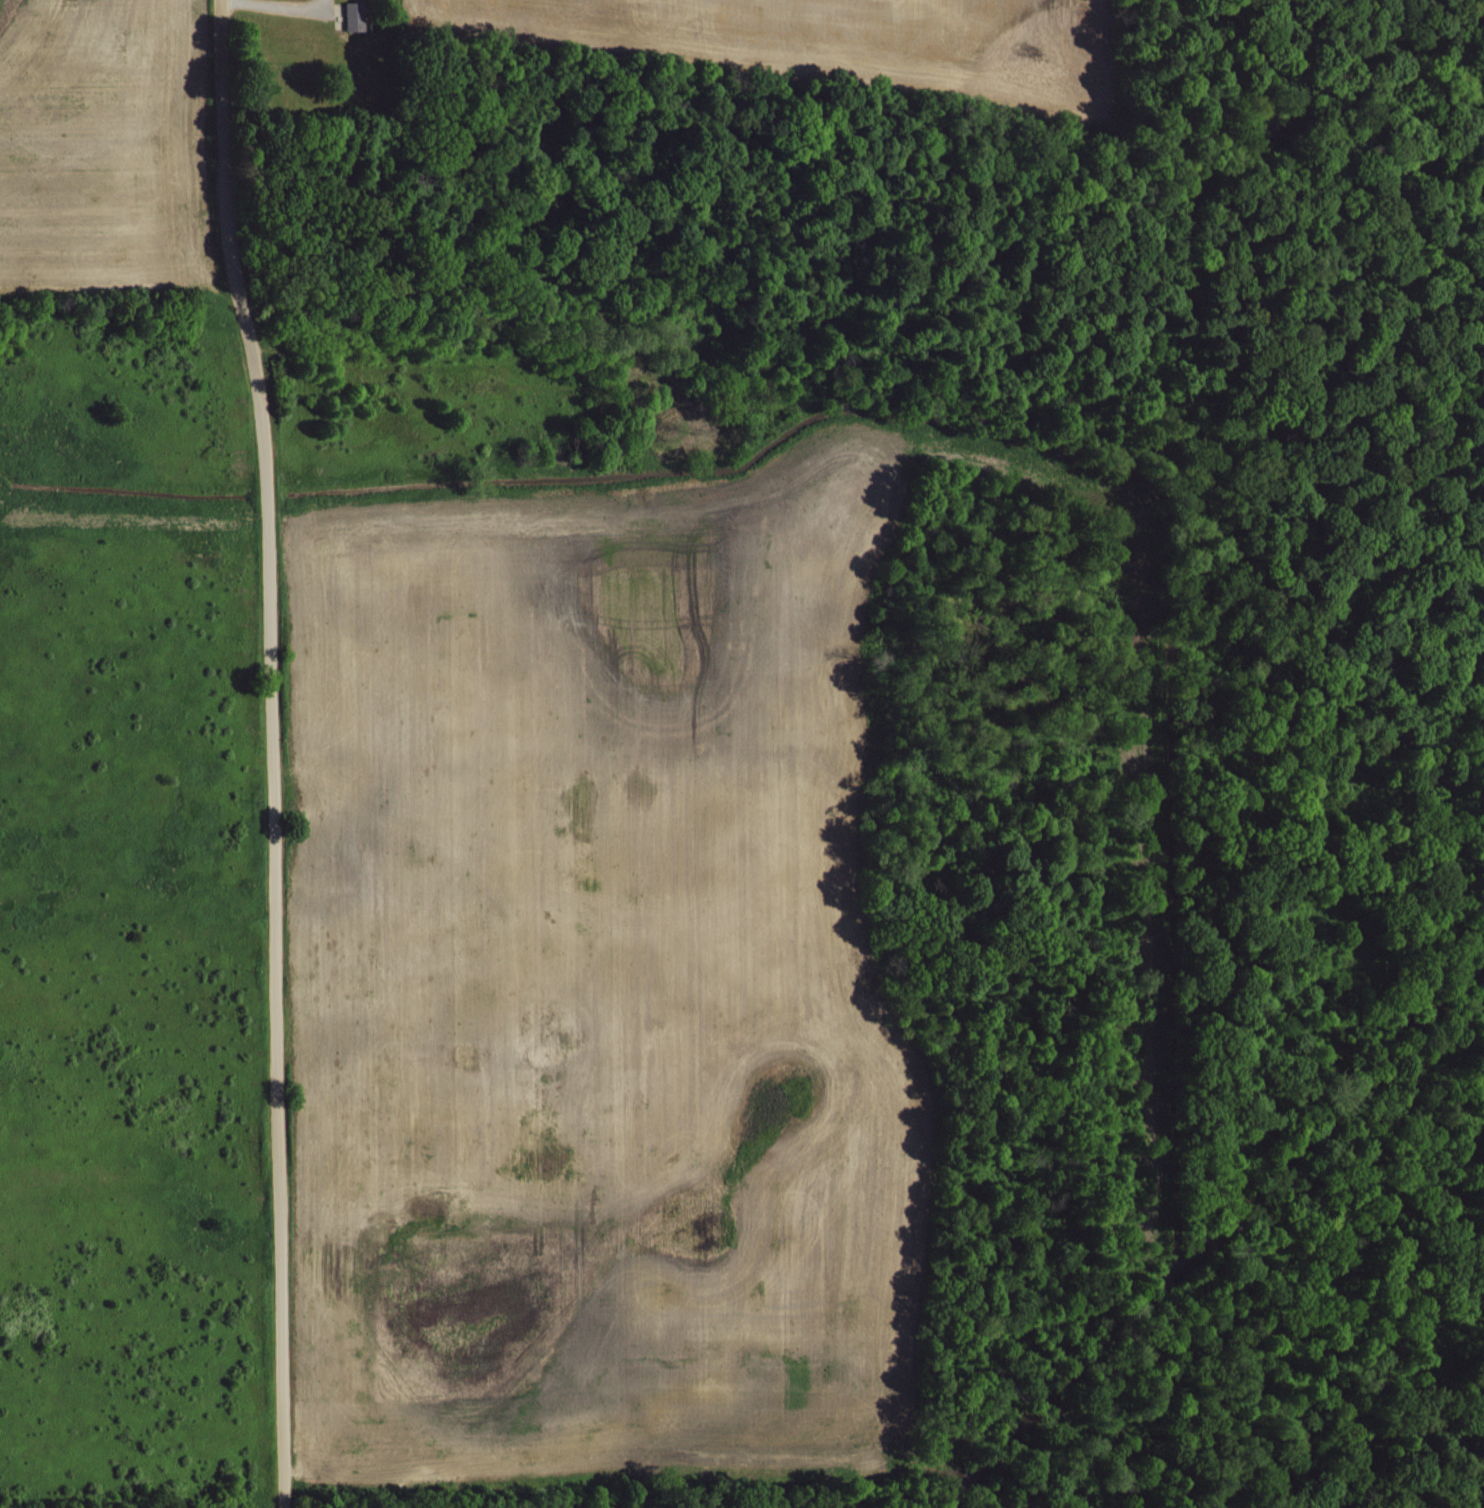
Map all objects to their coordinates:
building: (356, 15)
road: (269, 751)

